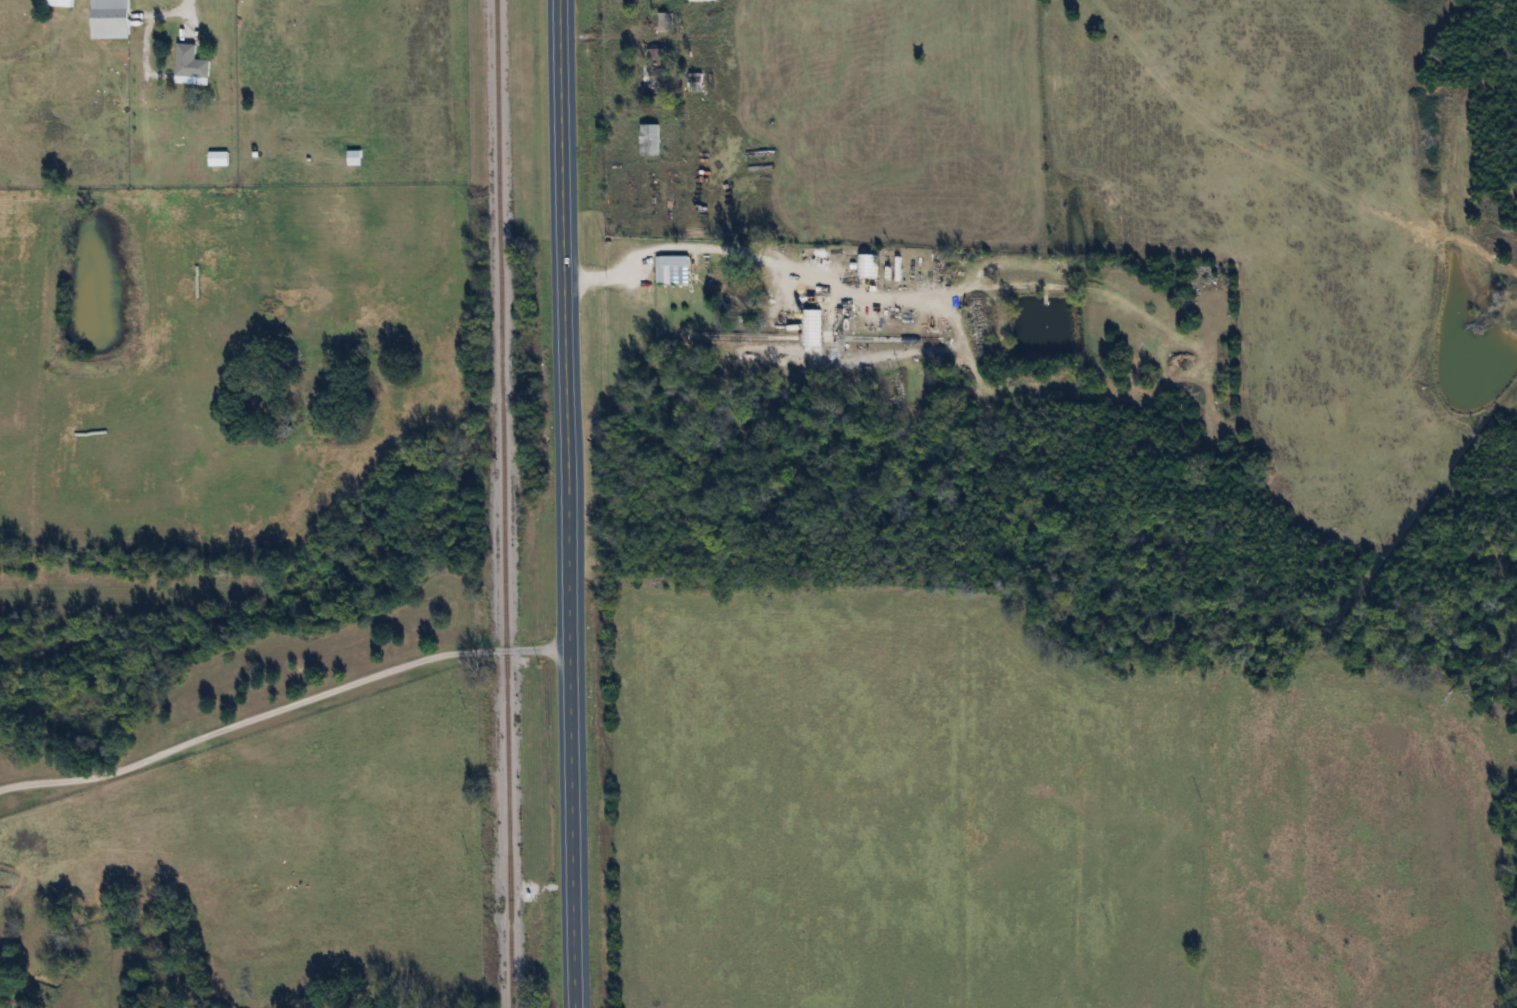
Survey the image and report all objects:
building: (61, 2)
building: (111, 18)
building: (665, 21)
building: (192, 62)
building: (657, 70)
building: (696, 81)
road: (680, 245)
building: (867, 265)
building: (674, 269)
railway: (504, 503)
road: (567, 504)
road: (283, 708)

